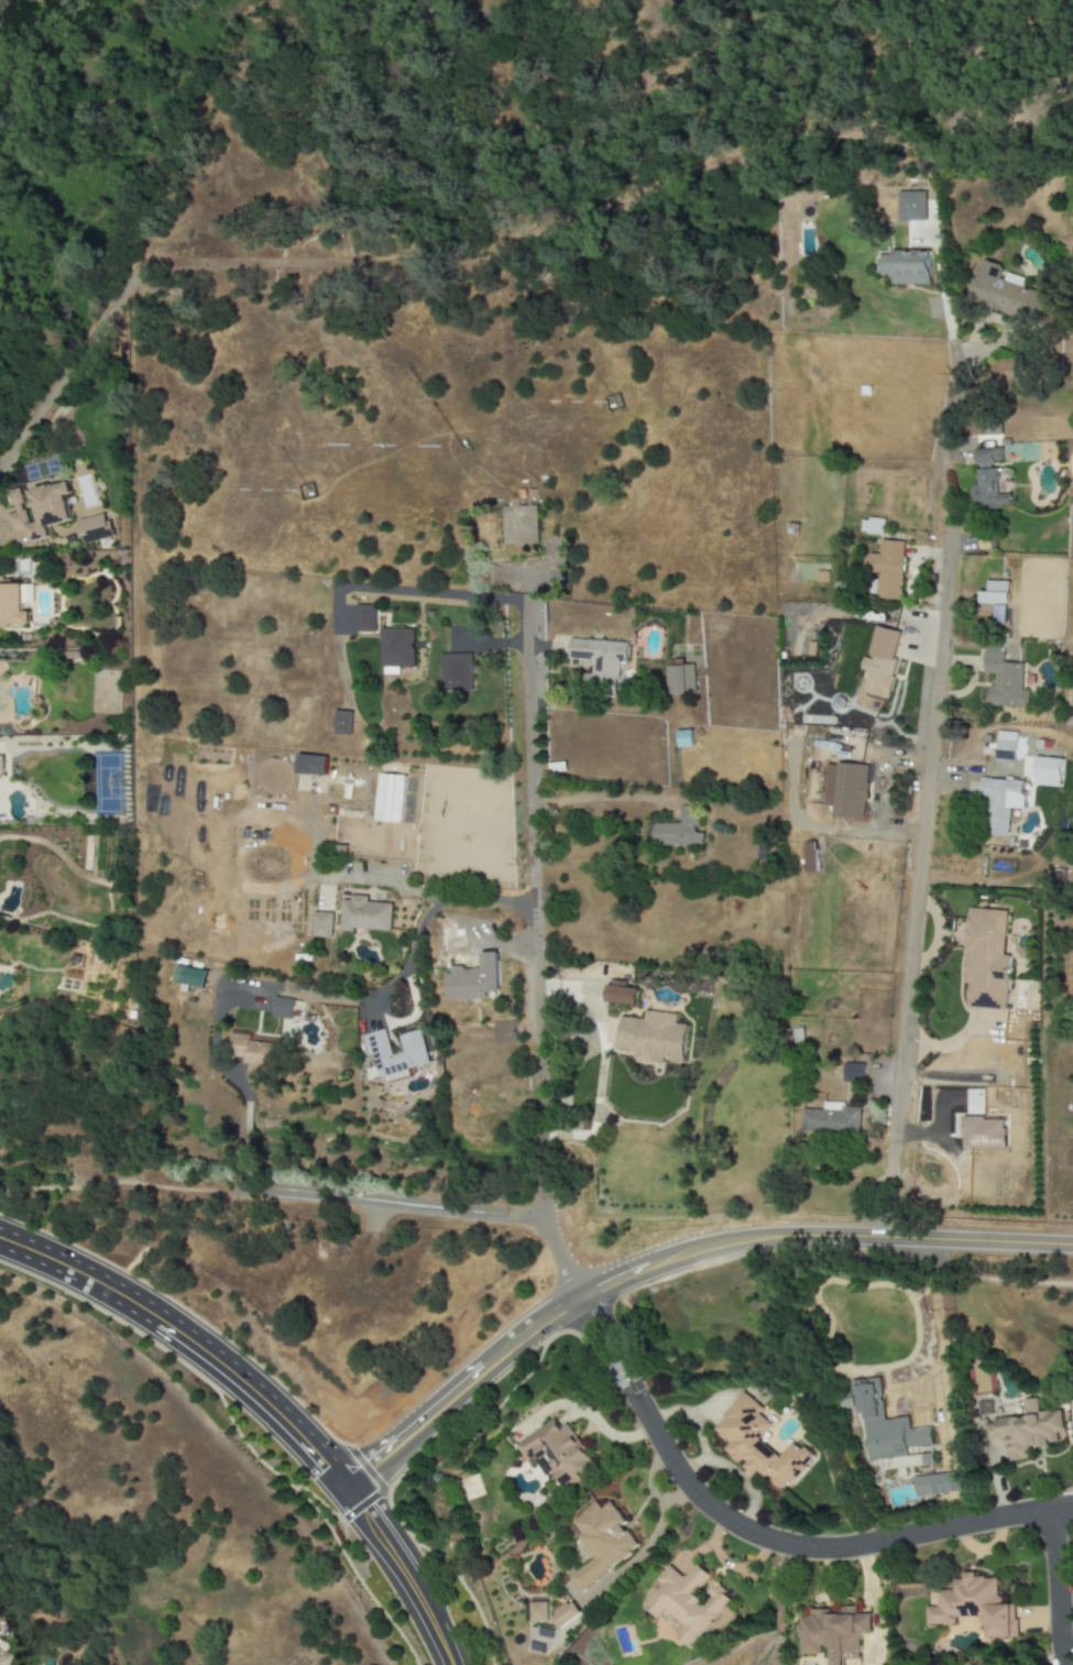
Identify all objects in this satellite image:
building: (910, 206)
building: (907, 267)
building: (1006, 294)
road: (72, 366)
road: (955, 381)
building: (987, 457)
building: (989, 492)
building: (521, 525)
building: (873, 527)
building: (92, 528)
road: (1, 529)
building: (887, 569)
road: (413, 594)
building: (12, 606)
building: (996, 606)
building: (364, 618)
building: (396, 650)
building: (882, 661)
building: (600, 662)
building: (457, 672)
building: (679, 678)
building: (1004, 680)
building: (342, 723)
building: (685, 738)
building: (1005, 746)
building: (311, 765)
building: (1, 770)
building: (1048, 771)
building: (846, 790)
building: (388, 798)
building: (999, 803)
building: (680, 830)
building: (809, 857)
road: (376, 879)
road: (917, 885)
road: (488, 900)
building: (365, 914)
building: (322, 924)
building: (450, 936)
road: (535, 949)
building: (986, 960)
road: (403, 966)
building: (189, 976)
building: (473, 979)
building: (620, 994)
building: (282, 1008)
building: (504, 1031)
building: (653, 1038)
road: (215, 1045)
building: (253, 1051)
building: (401, 1055)
building: (853, 1073)
building: (832, 1118)
road: (248, 1132)
building: (984, 1133)
road: (241, 1175)
road: (119, 1185)
road: (390, 1204)
road: (979, 1245)
road: (730, 1253)
road: (993, 1280)
road: (937, 1316)
road: (193, 1341)
road: (628, 1348)
road: (602, 1365)
road: (464, 1395)
road: (592, 1416)
building: (888, 1424)
building: (1027, 1431)
building: (760, 1444)
building: (559, 1453)
road: (652, 1479)
building: (939, 1485)
road: (391, 1498)
road: (322, 1504)
road: (321, 1520)
building: (604, 1543)
road: (831, 1547)
road: (644, 1548)
road: (409, 1575)
road: (1053, 1588)
building: (691, 1602)
building: (976, 1606)
building: (538, 1612)
building: (566, 1614)
building: (835, 1633)
building: (1, 1658)

